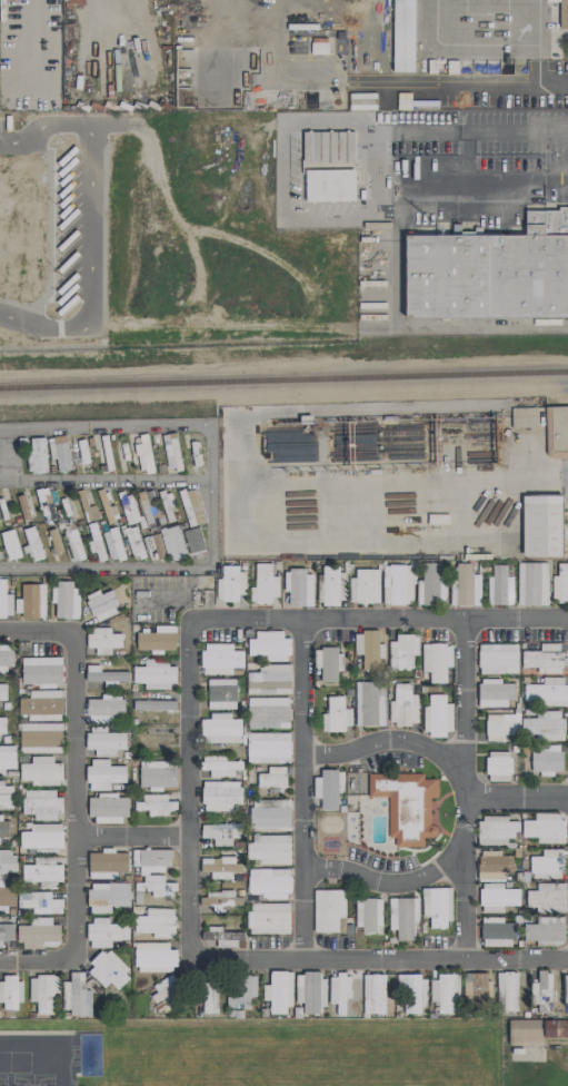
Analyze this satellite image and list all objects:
building: (76, 1)
building: (562, 14)
building: (402, 36)
road: (540, 40)
road: (474, 82)
building: (360, 100)
road: (285, 122)
road: (514, 131)
building: (328, 147)
road: (469, 155)
road: (371, 172)
road: (556, 176)
road: (506, 177)
building: (329, 185)
road: (449, 211)
road: (383, 213)
road: (91, 226)
building: (490, 271)
road: (427, 324)
railway: (283, 379)
railway: (283, 389)
building: (524, 416)
building: (556, 432)
building: (79, 452)
building: (37, 455)
road: (530, 474)
road: (106, 480)
road: (211, 497)
building: (148, 503)
building: (23, 506)
building: (128, 506)
building: (3, 507)
building: (110, 507)
building: (541, 525)
building: (53, 540)
building: (94, 540)
building: (175, 540)
building: (193, 540)
building: (31, 543)
building: (134, 543)
building: (10, 544)
building: (73, 544)
building: (112, 544)
building: (229, 583)
building: (263, 583)
building: (531, 583)
building: (560, 583)
building: (397, 584)
building: (333, 585)
building: (363, 585)
building: (430, 585)
building: (499, 585)
building: (298, 586)
building: (466, 590)
building: (32, 600)
building: (64, 600)
building: (4, 601)
building: (101, 604)
road: (272, 618)
building: (157, 639)
building: (102, 640)
building: (269, 644)
building: (368, 648)
building: (402, 650)
building: (4, 658)
building: (497, 658)
building: (544, 658)
building: (219, 659)
building: (436, 660)
building: (329, 663)
building: (41, 671)
building: (155, 673)
building: (104, 675)
building: (269, 679)
building: (2, 691)
building: (546, 691)
building: (495, 692)
building: (220, 693)
building: (369, 703)
building: (41, 704)
building: (153, 704)
building: (402, 705)
building: (104, 709)
building: (268, 712)
building: (336, 713)
building: (438, 715)
building: (2, 724)
building: (525, 725)
building: (220, 729)
building: (40, 737)
building: (153, 737)
road: (388, 738)
building: (104, 740)
building: (268, 747)
building: (7, 758)
building: (545, 760)
building: (498, 766)
building: (221, 767)
building: (41, 771)
building: (103, 773)
building: (157, 773)
building: (272, 779)
road: (305, 789)
building: (328, 789)
road: (468, 790)
building: (220, 794)
building: (6, 796)
road: (77, 797)
road: (518, 798)
building: (41, 803)
building: (153, 803)
building: (406, 804)
building: (108, 808)
building: (269, 814)
building: (3, 826)
building: (545, 828)
building: (496, 830)
building: (220, 832)
road: (134, 835)
building: (41, 838)
building: (268, 848)
building: (152, 858)
building: (547, 863)
building: (106, 865)
building: (494, 867)
building: (41, 872)
building: (221, 875)
building: (2, 878)
road: (395, 880)
building: (268, 881)
building: (158, 886)
building: (107, 896)
building: (497, 897)
building: (547, 897)
building: (41, 902)
building: (436, 906)
building: (328, 909)
building: (367, 914)
building: (402, 916)
building: (268, 918)
building: (156, 922)
building: (545, 930)
building: (6, 931)
building: (102, 931)
building: (496, 931)
building: (39, 934)
building: (223, 937)
building: (153, 957)
road: (318, 959)
building: (108, 970)
building: (476, 987)
building: (169, 988)
building: (541, 988)
building: (566, 988)
building: (242, 990)
building: (339, 990)
building: (506, 990)
building: (42, 991)
building: (279, 991)
building: (310, 991)
building: (10, 993)
building: (74, 993)
building: (373, 993)
building: (445, 993)
building: (411, 994)
building: (209, 995)
building: (535, 1030)

